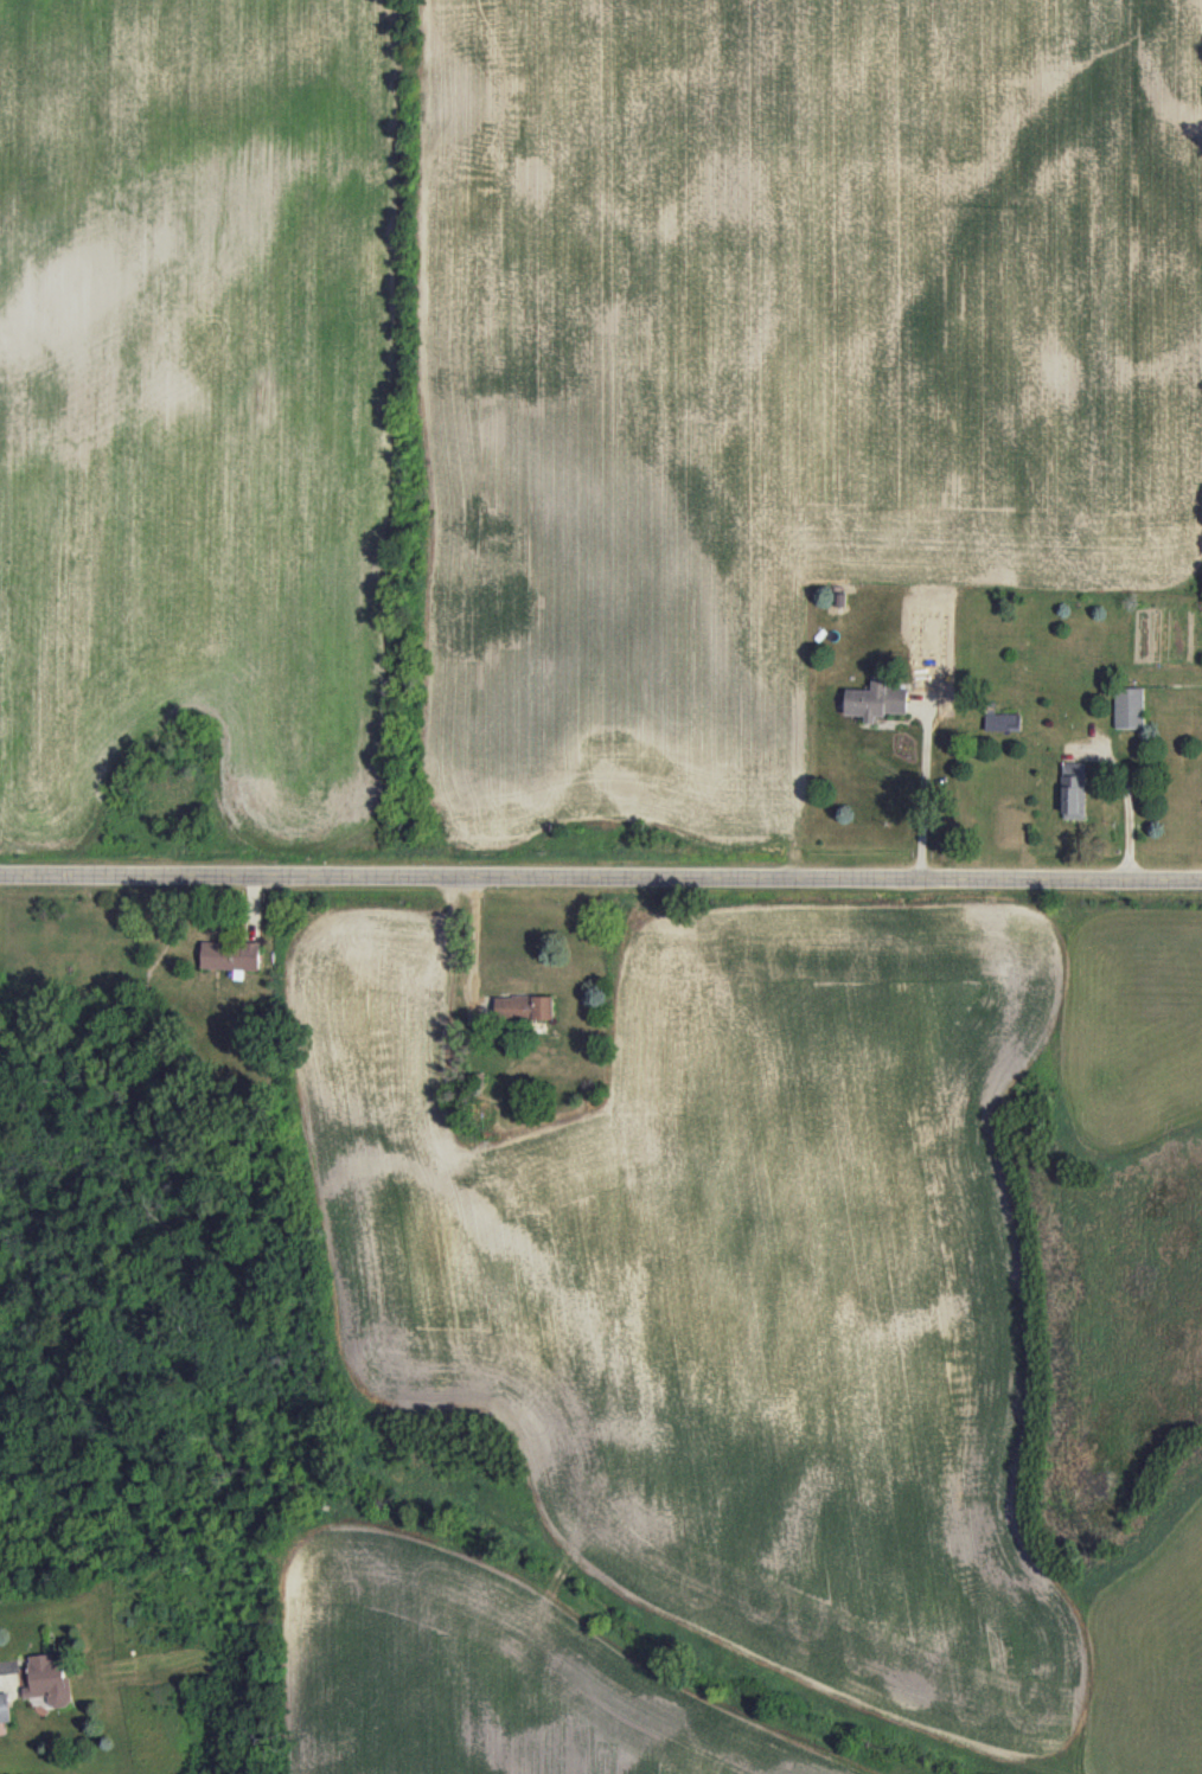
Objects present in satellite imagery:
airport: (210, 415)
building: (876, 700)
building: (1129, 707)
building: (1002, 722)
building: (1074, 790)
road: (922, 794)
road: (1127, 808)
road: (600, 879)
road: (474, 942)
building: (230, 955)
building: (524, 1006)
building: (49, 1680)
building: (5, 1706)

